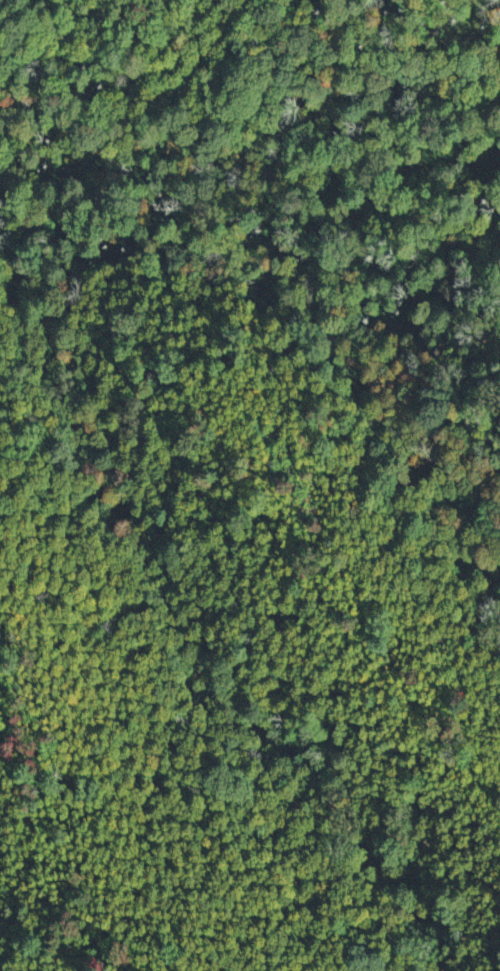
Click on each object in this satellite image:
road: (72, 102)

